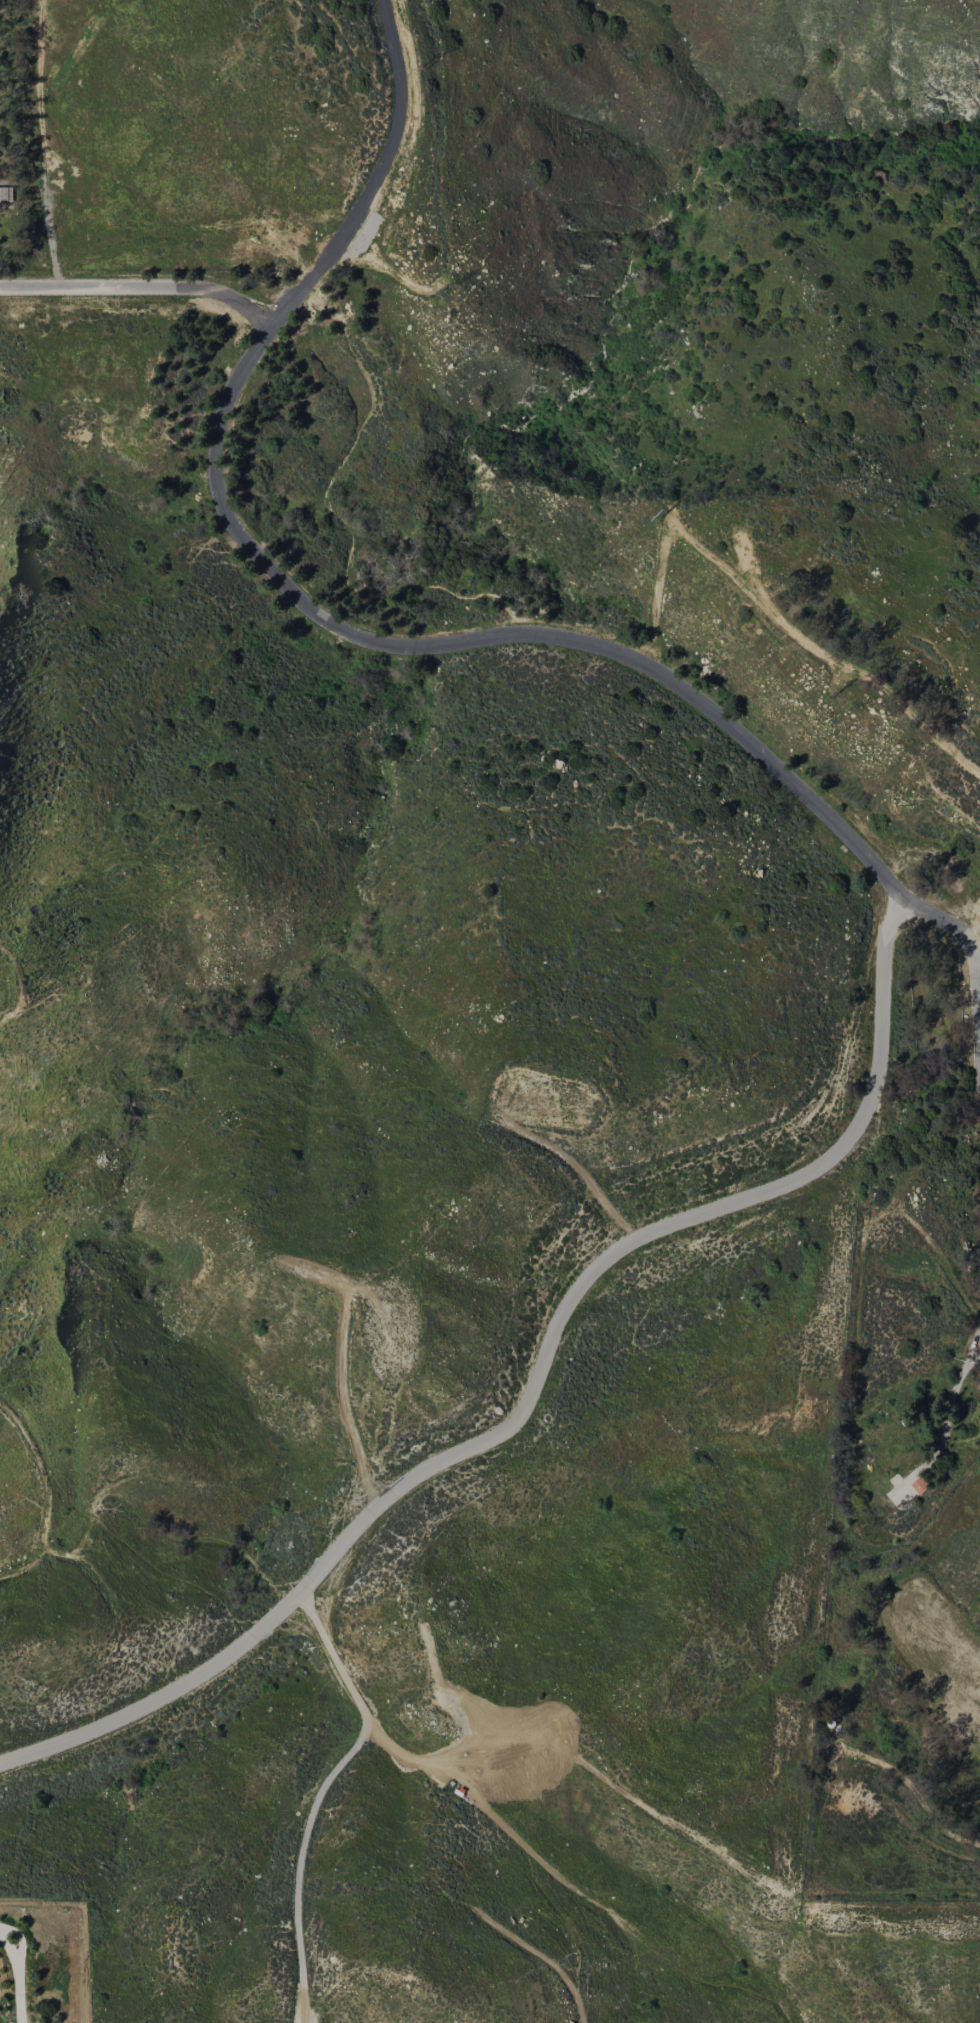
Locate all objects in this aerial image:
road: (388, 270)
road: (139, 288)
road: (311, 608)
road: (941, 923)
road: (19, 988)
road: (535, 1384)
road: (949, 1413)
road: (83, 1544)
road: (22, 1566)
road: (321, 1794)
road: (20, 1972)

